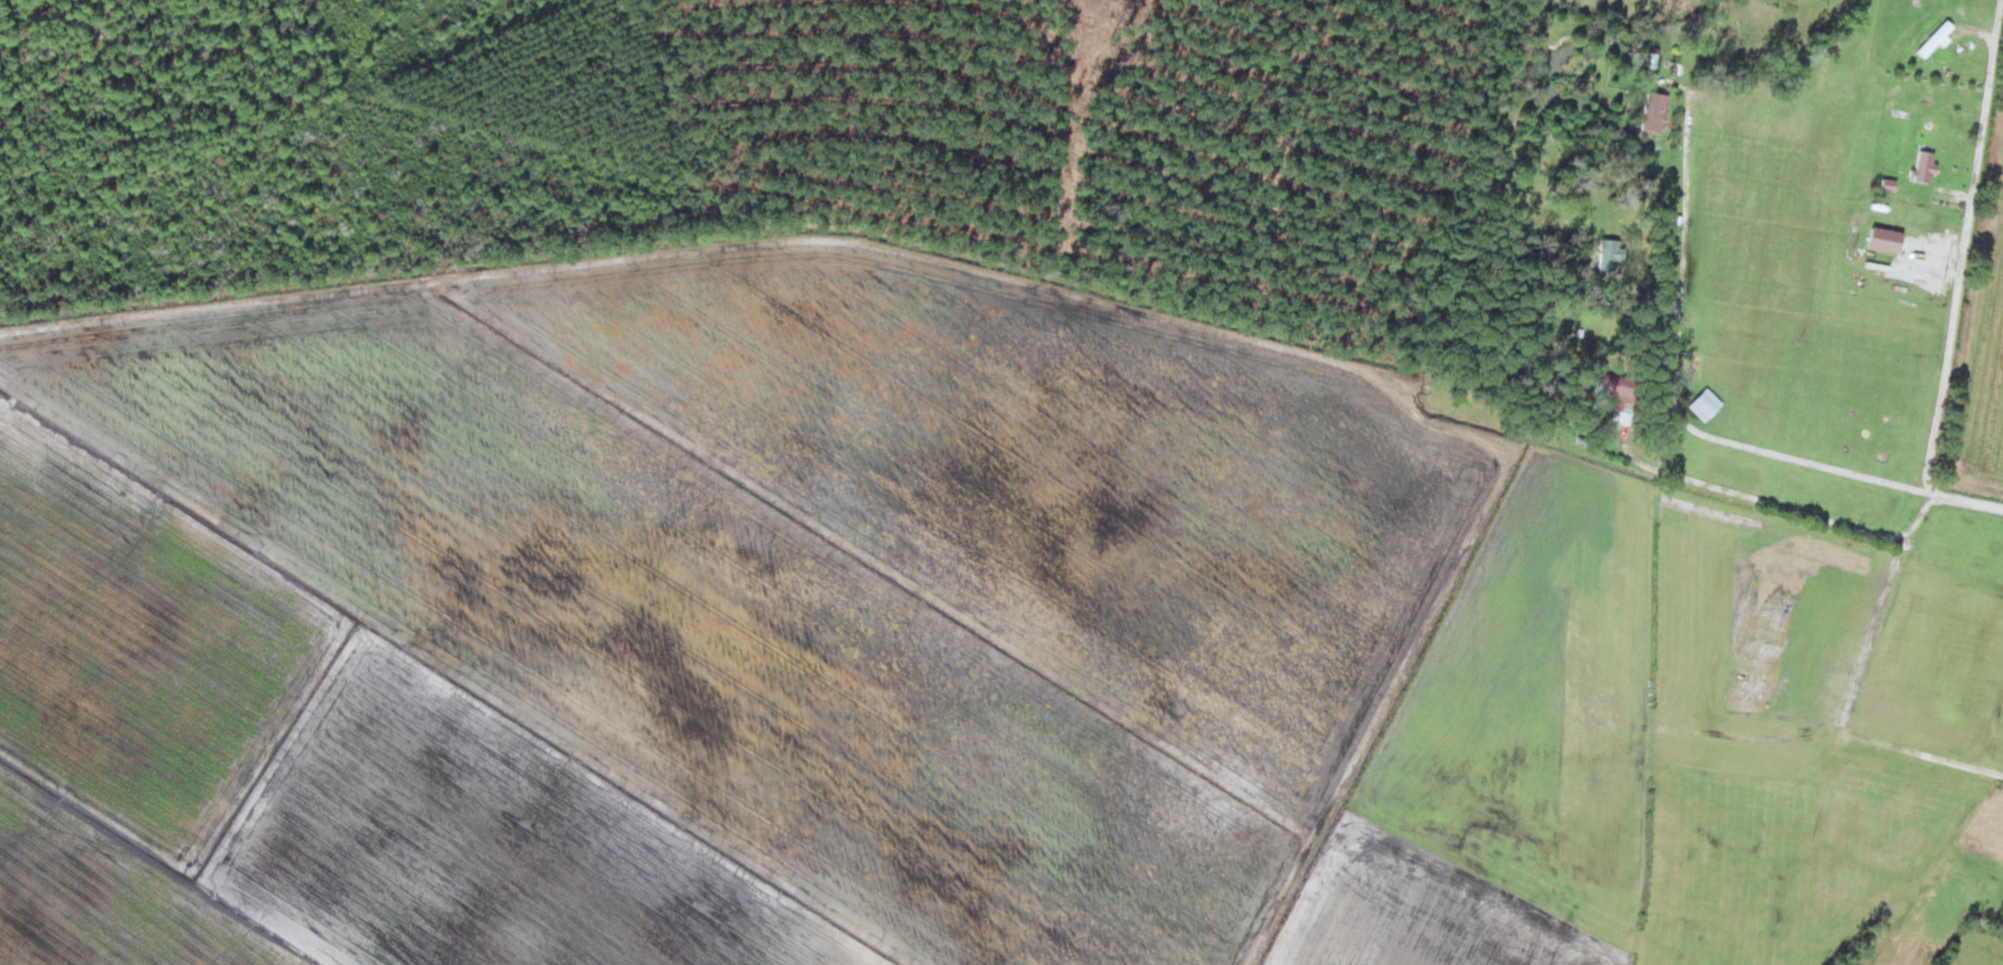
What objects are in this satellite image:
road: (1997, 22)
building: (1928, 33)
building: (1930, 39)
building: (1648, 107)
building: (1919, 161)
road: (1951, 190)
building: (1602, 247)
road: (1958, 278)
building: (1686, 359)
crop: (1986, 374)
road: (1672, 376)
building: (1602, 381)
building: (1592, 396)
building: (1698, 397)
road: (1774, 503)
road: (1378, 722)

